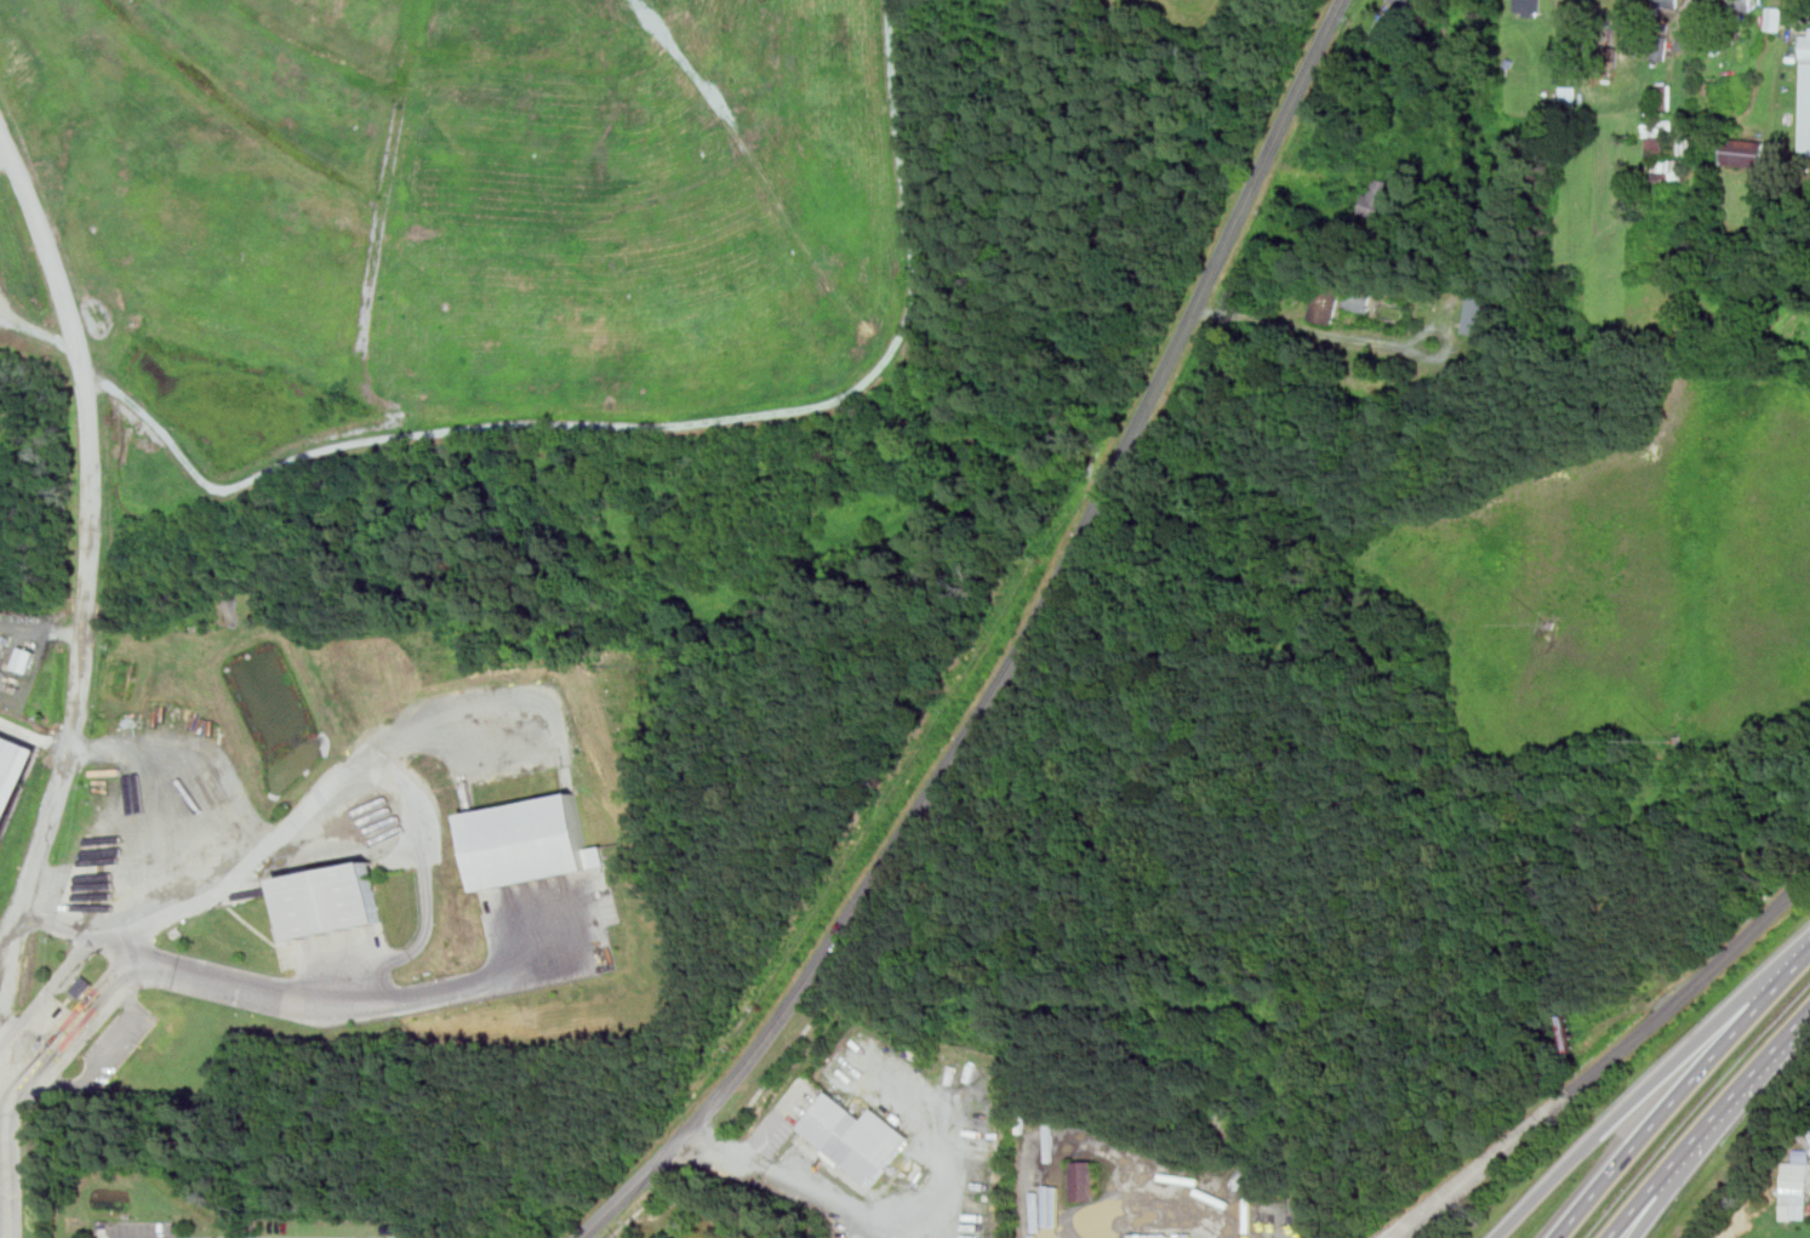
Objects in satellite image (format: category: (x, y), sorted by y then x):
building: (1411, 4)
building: (1668, 4)
building: (1741, 6)
building: (1529, 7)
building: (1775, 18)
building: (1689, 40)
building: (1806, 44)
building: (1660, 52)
building: (1569, 95)
building: (1666, 95)
building: (1658, 127)
building: (1686, 138)
building: (1655, 142)
building: (1745, 154)
building: (1665, 169)
building: (1377, 198)
building: (1359, 299)
building: (1327, 301)
building: (1479, 313)
landfill: (541, 468)
building: (1554, 626)
road: (1016, 654)
road: (80, 683)
road: (36, 737)
building: (1683, 741)
road: (373, 772)
building: (15, 777)
road: (150, 800)
building: (527, 840)
wastewater plant: (33, 862)
building: (331, 900)
road: (5, 953)
building: (84, 986)
road: (48, 989)
road: (292, 994)
road: (1650, 1006)
road: (79, 1040)
road: (1609, 1061)
road: (1649, 1086)
road: (1679, 1092)
road: (776, 1119)
road: (1708, 1123)
building: (857, 1136)
road: (1678, 1179)
building: (1084, 1181)
building: (1795, 1186)
road: (887, 1225)
road: (1070, 1232)
road: (1394, 1236)
road: (1399, 1236)

